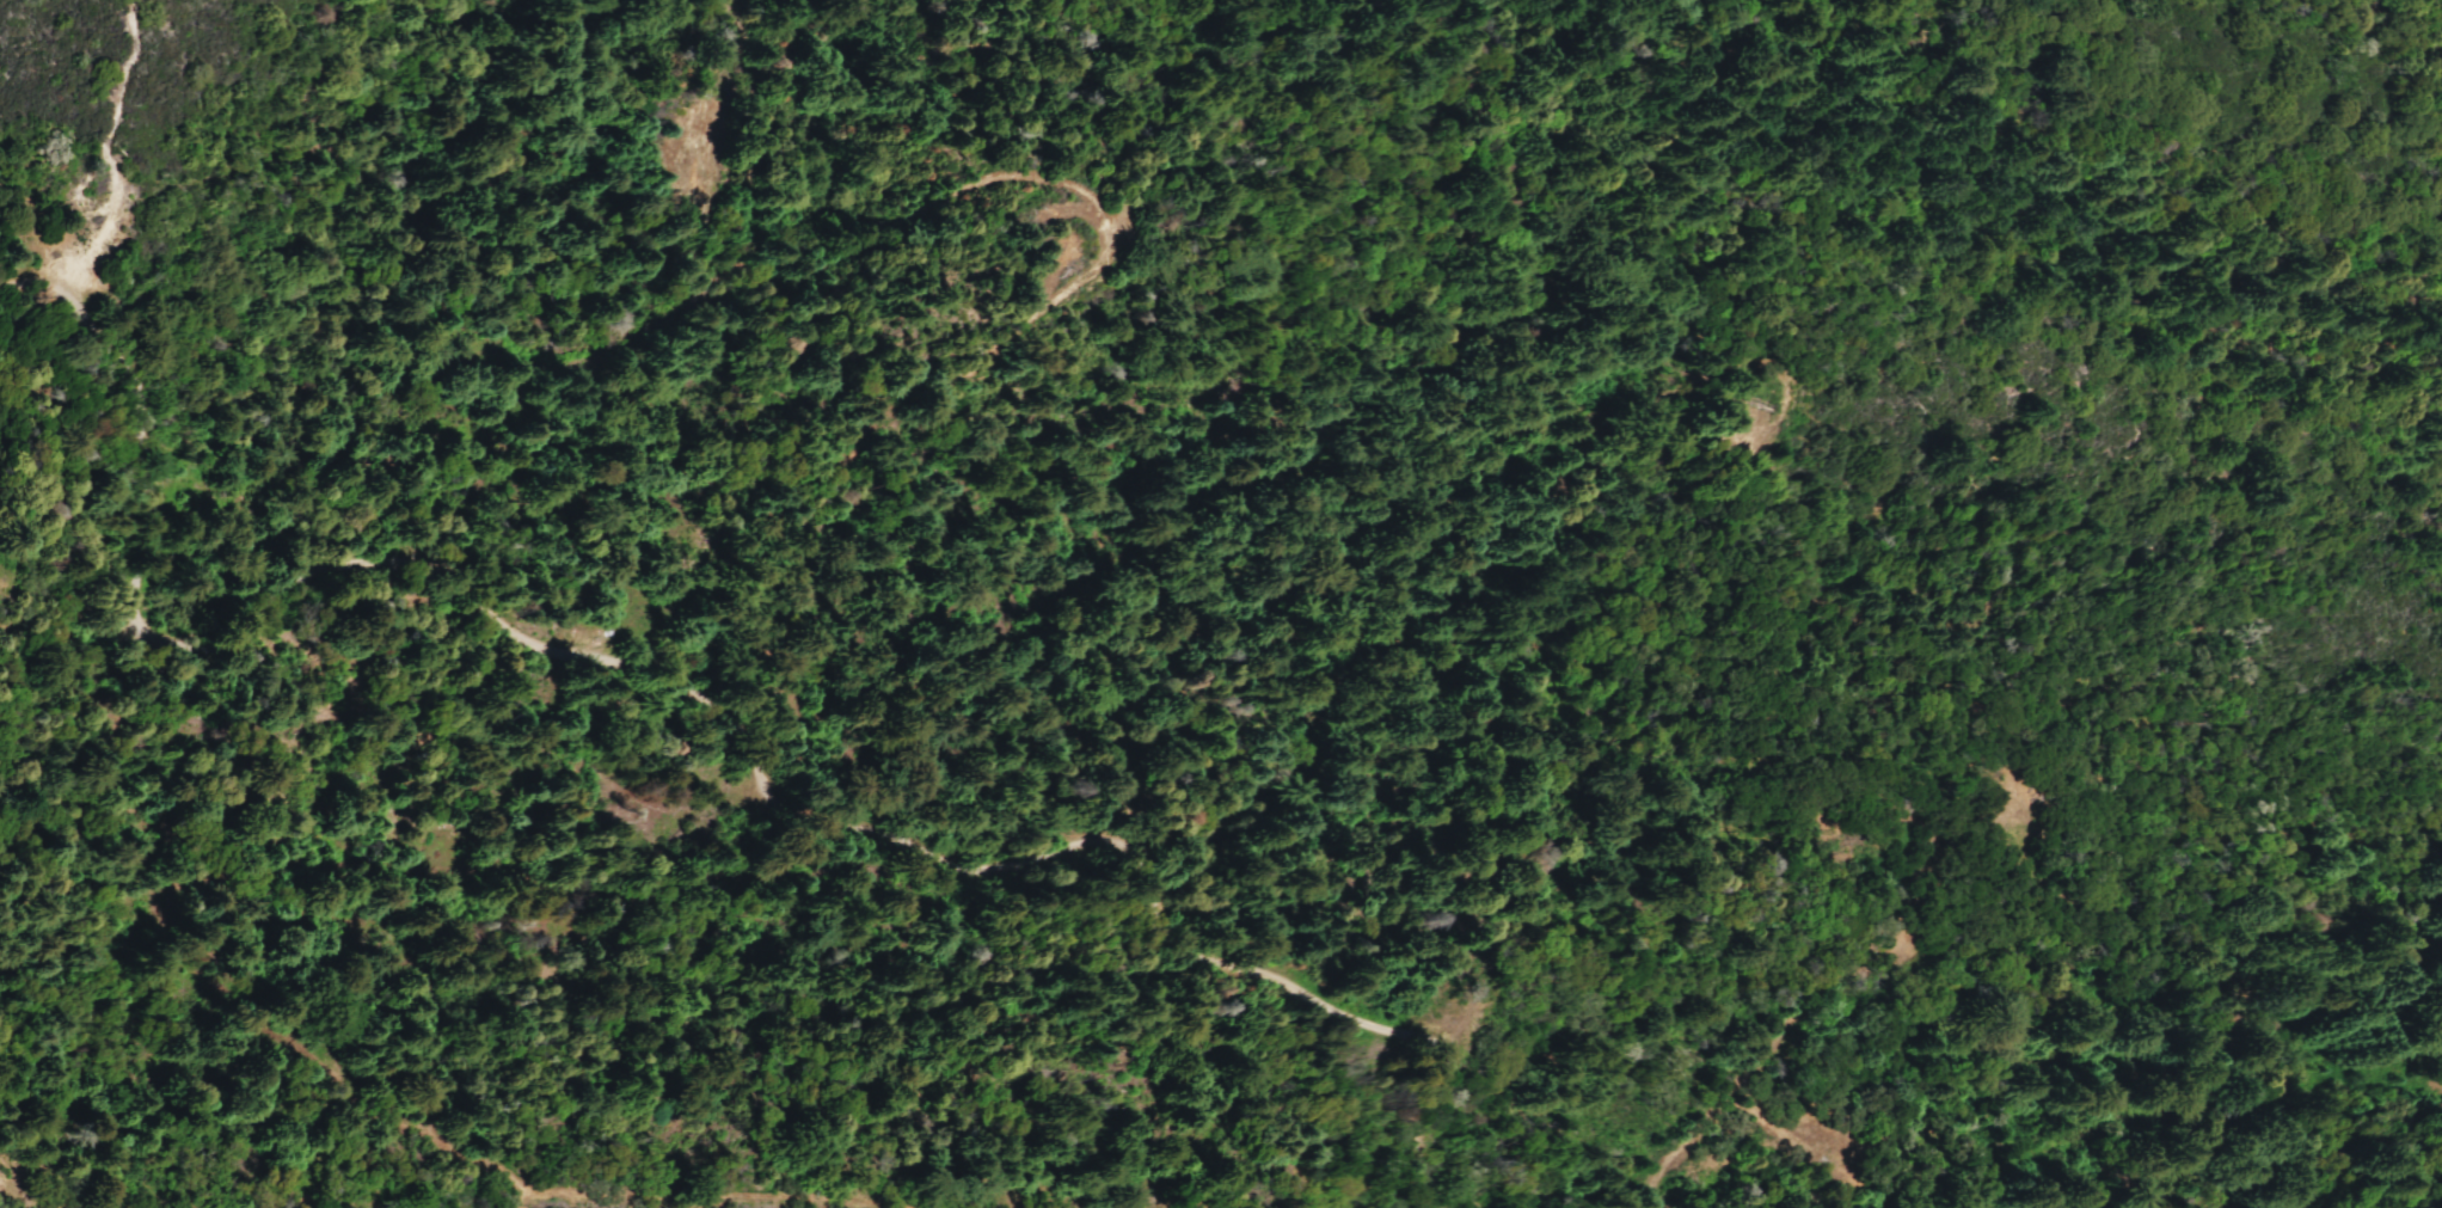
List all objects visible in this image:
road: (121, 81)
road: (102, 216)
building: (1579, 395)
road: (730, 719)
road: (1876, 955)

